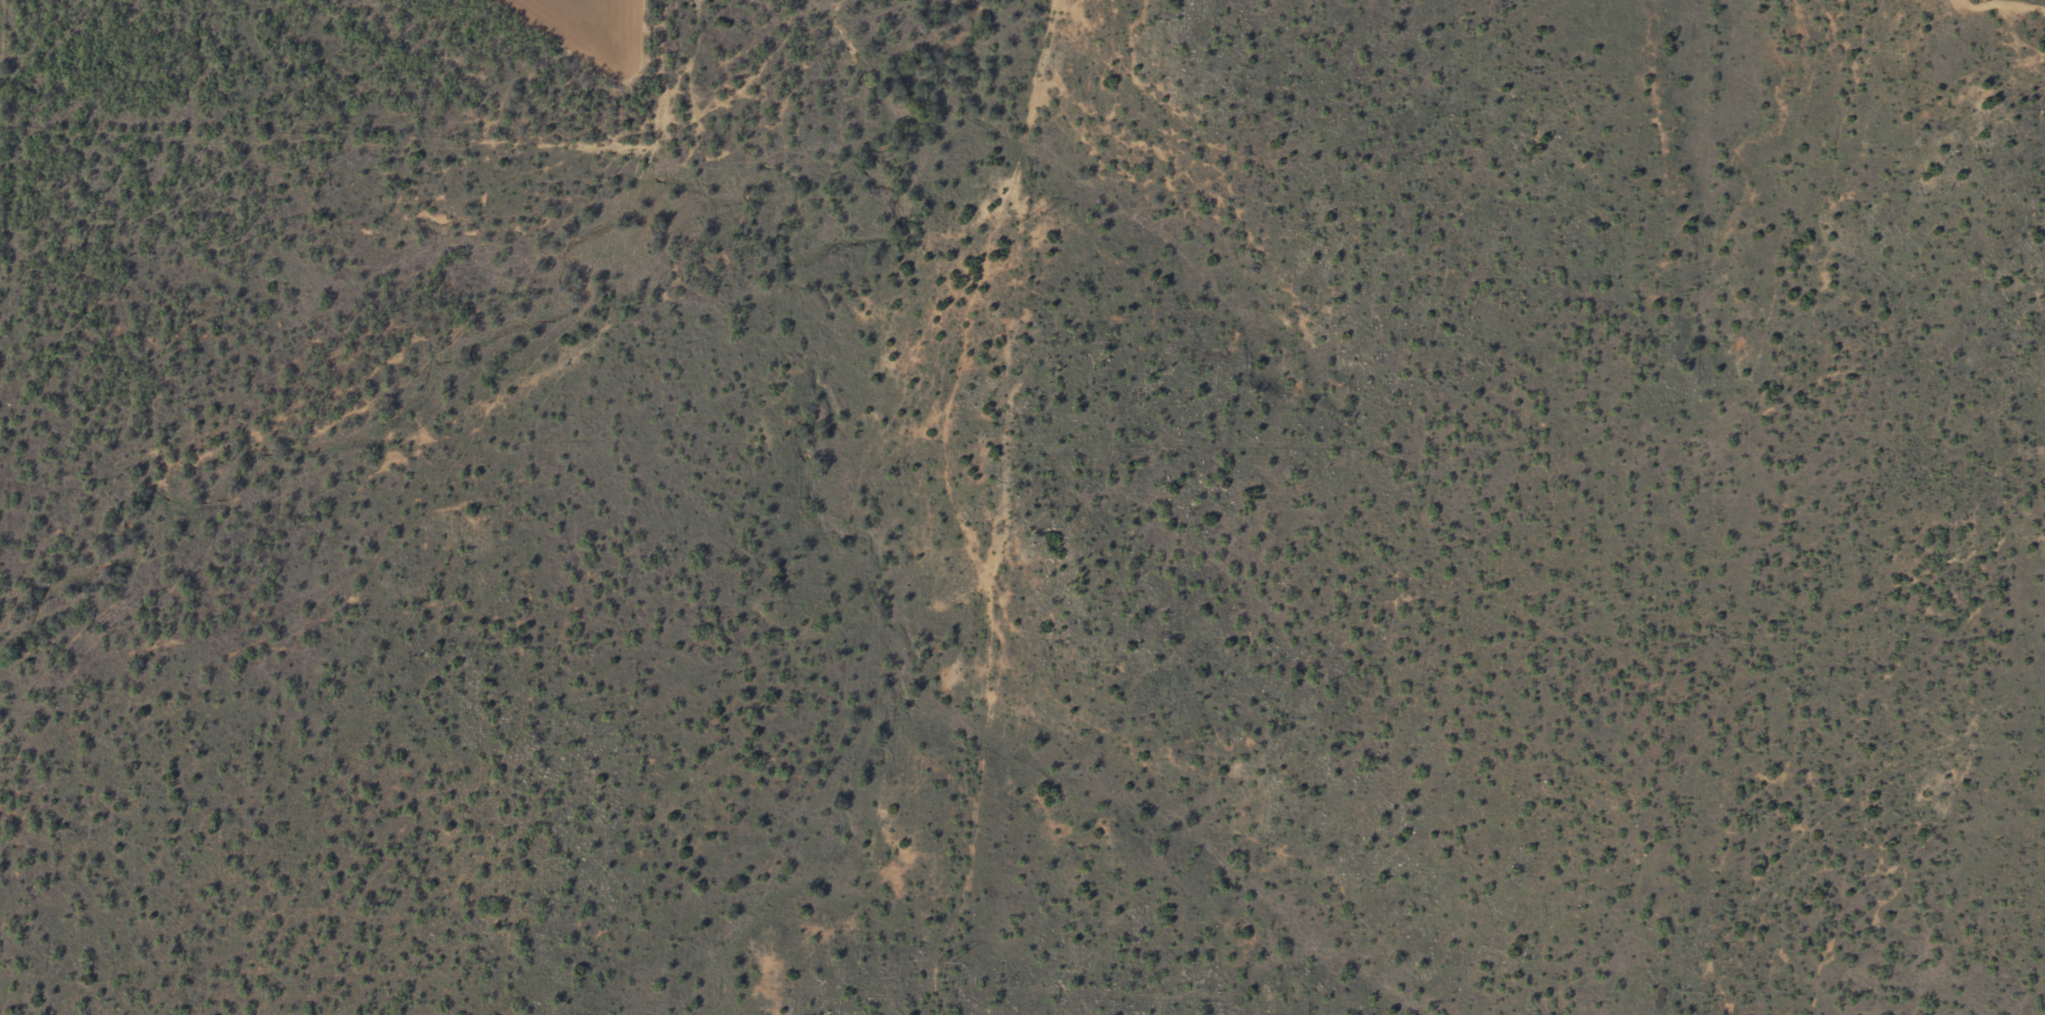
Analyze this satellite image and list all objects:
power tower: (1027, 221)
power tower: (992, 531)
power tower: (948, 961)

